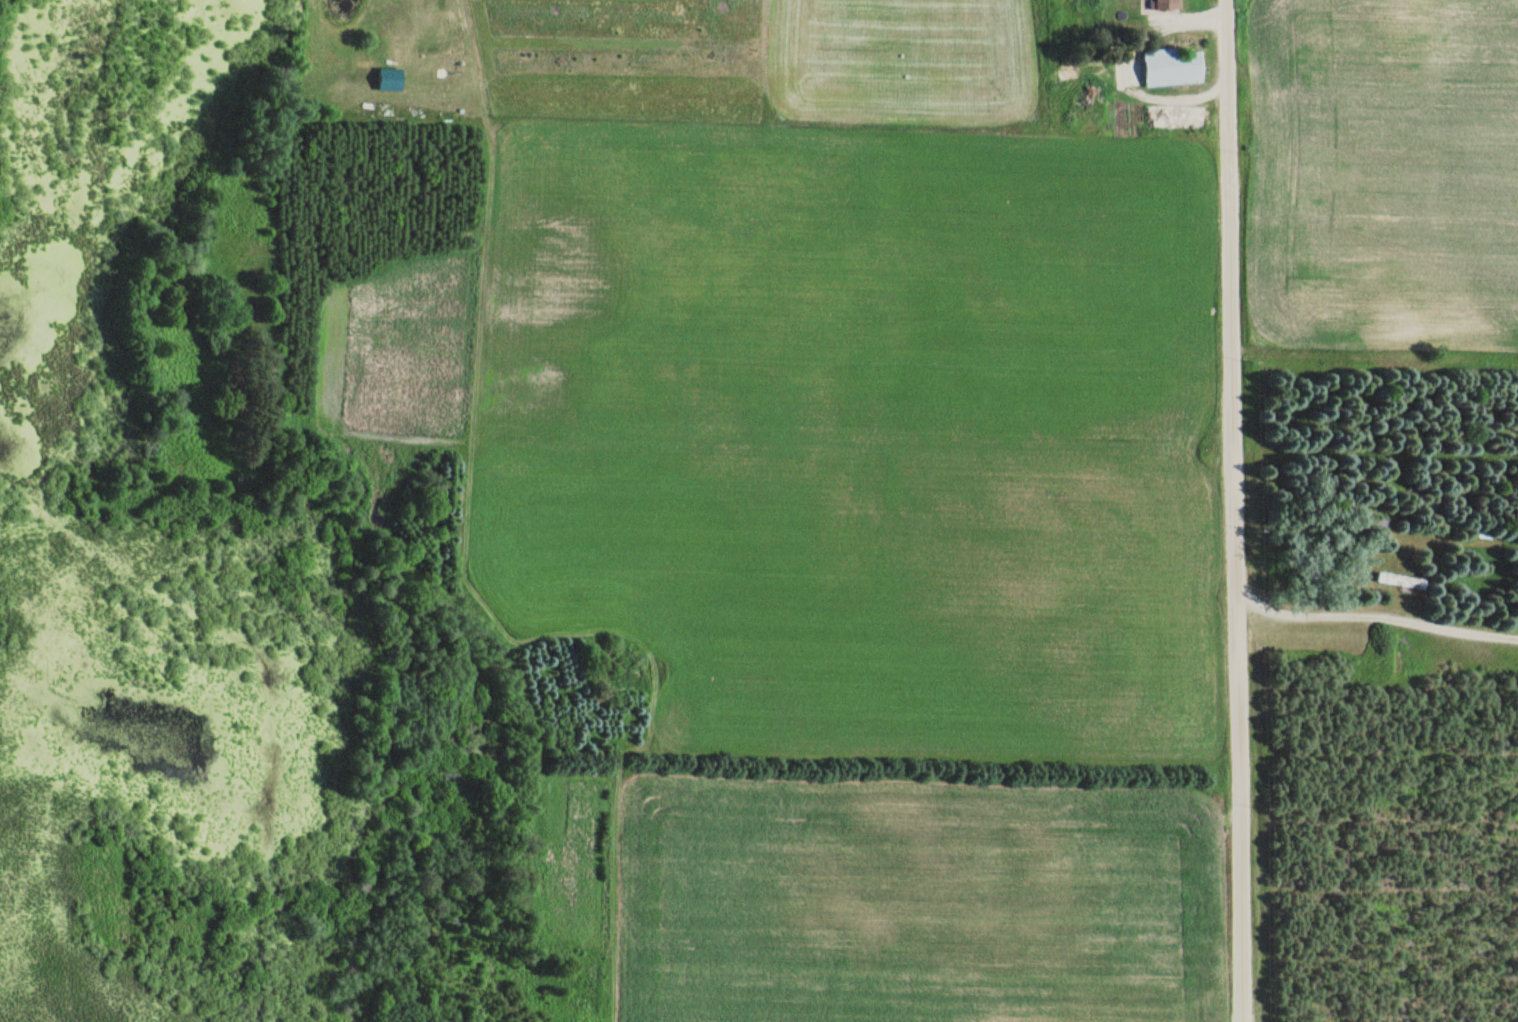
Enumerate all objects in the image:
building: (1163, 5)
building: (1172, 67)
road: (1231, 511)
building: (1379, 521)
building: (1399, 579)

